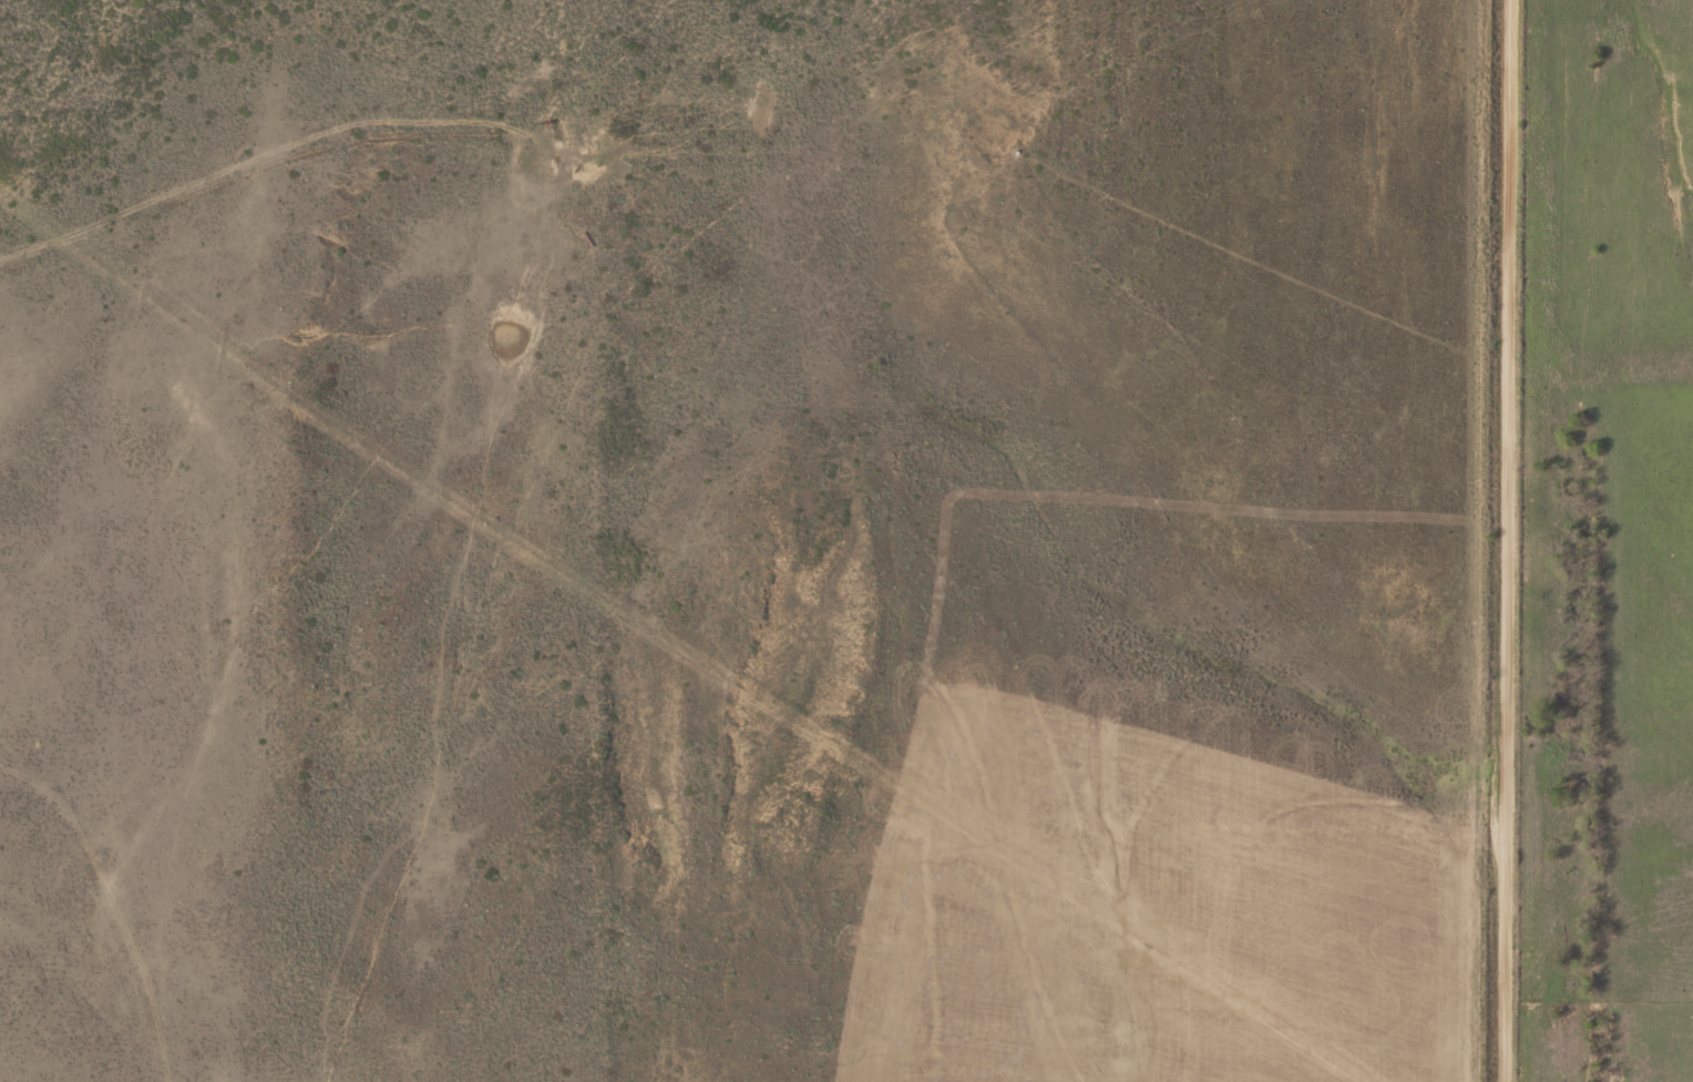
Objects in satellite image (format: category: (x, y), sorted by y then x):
road: (1498, 541)

